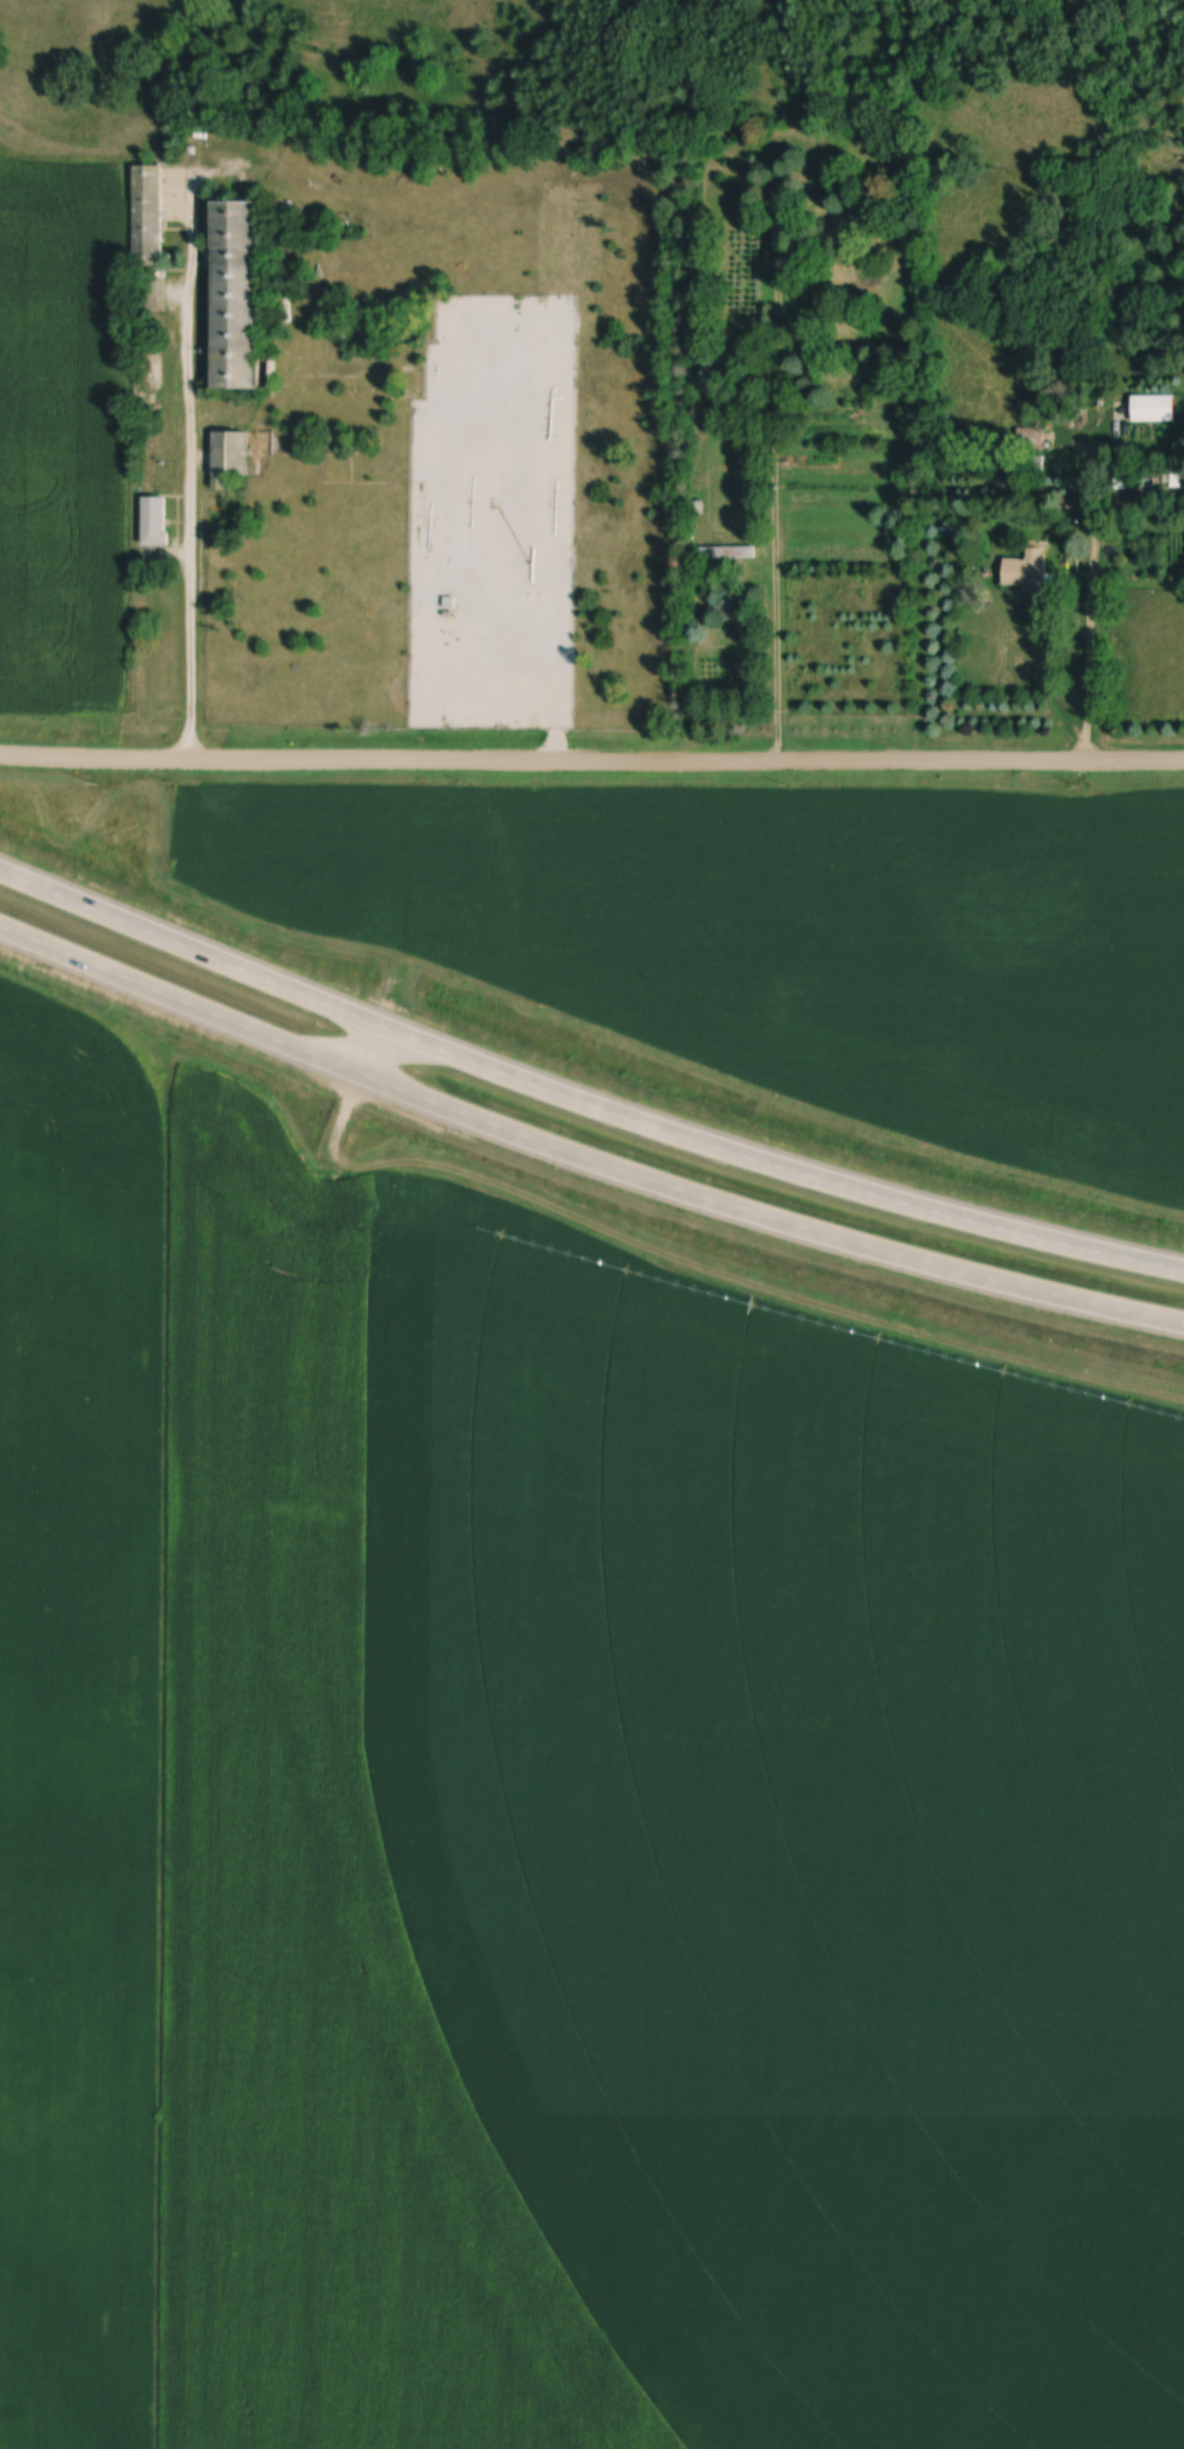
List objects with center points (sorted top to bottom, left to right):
building: (149, 215)
building: (237, 290)
building: (1155, 409)
building: (232, 454)
road: (774, 457)
road: (191, 470)
building: (157, 521)
building: (729, 552)
building: (1029, 572)
road: (1087, 596)
road: (1047, 690)
road: (591, 759)
road: (364, 1045)
road: (582, 1100)
road: (580, 1155)

